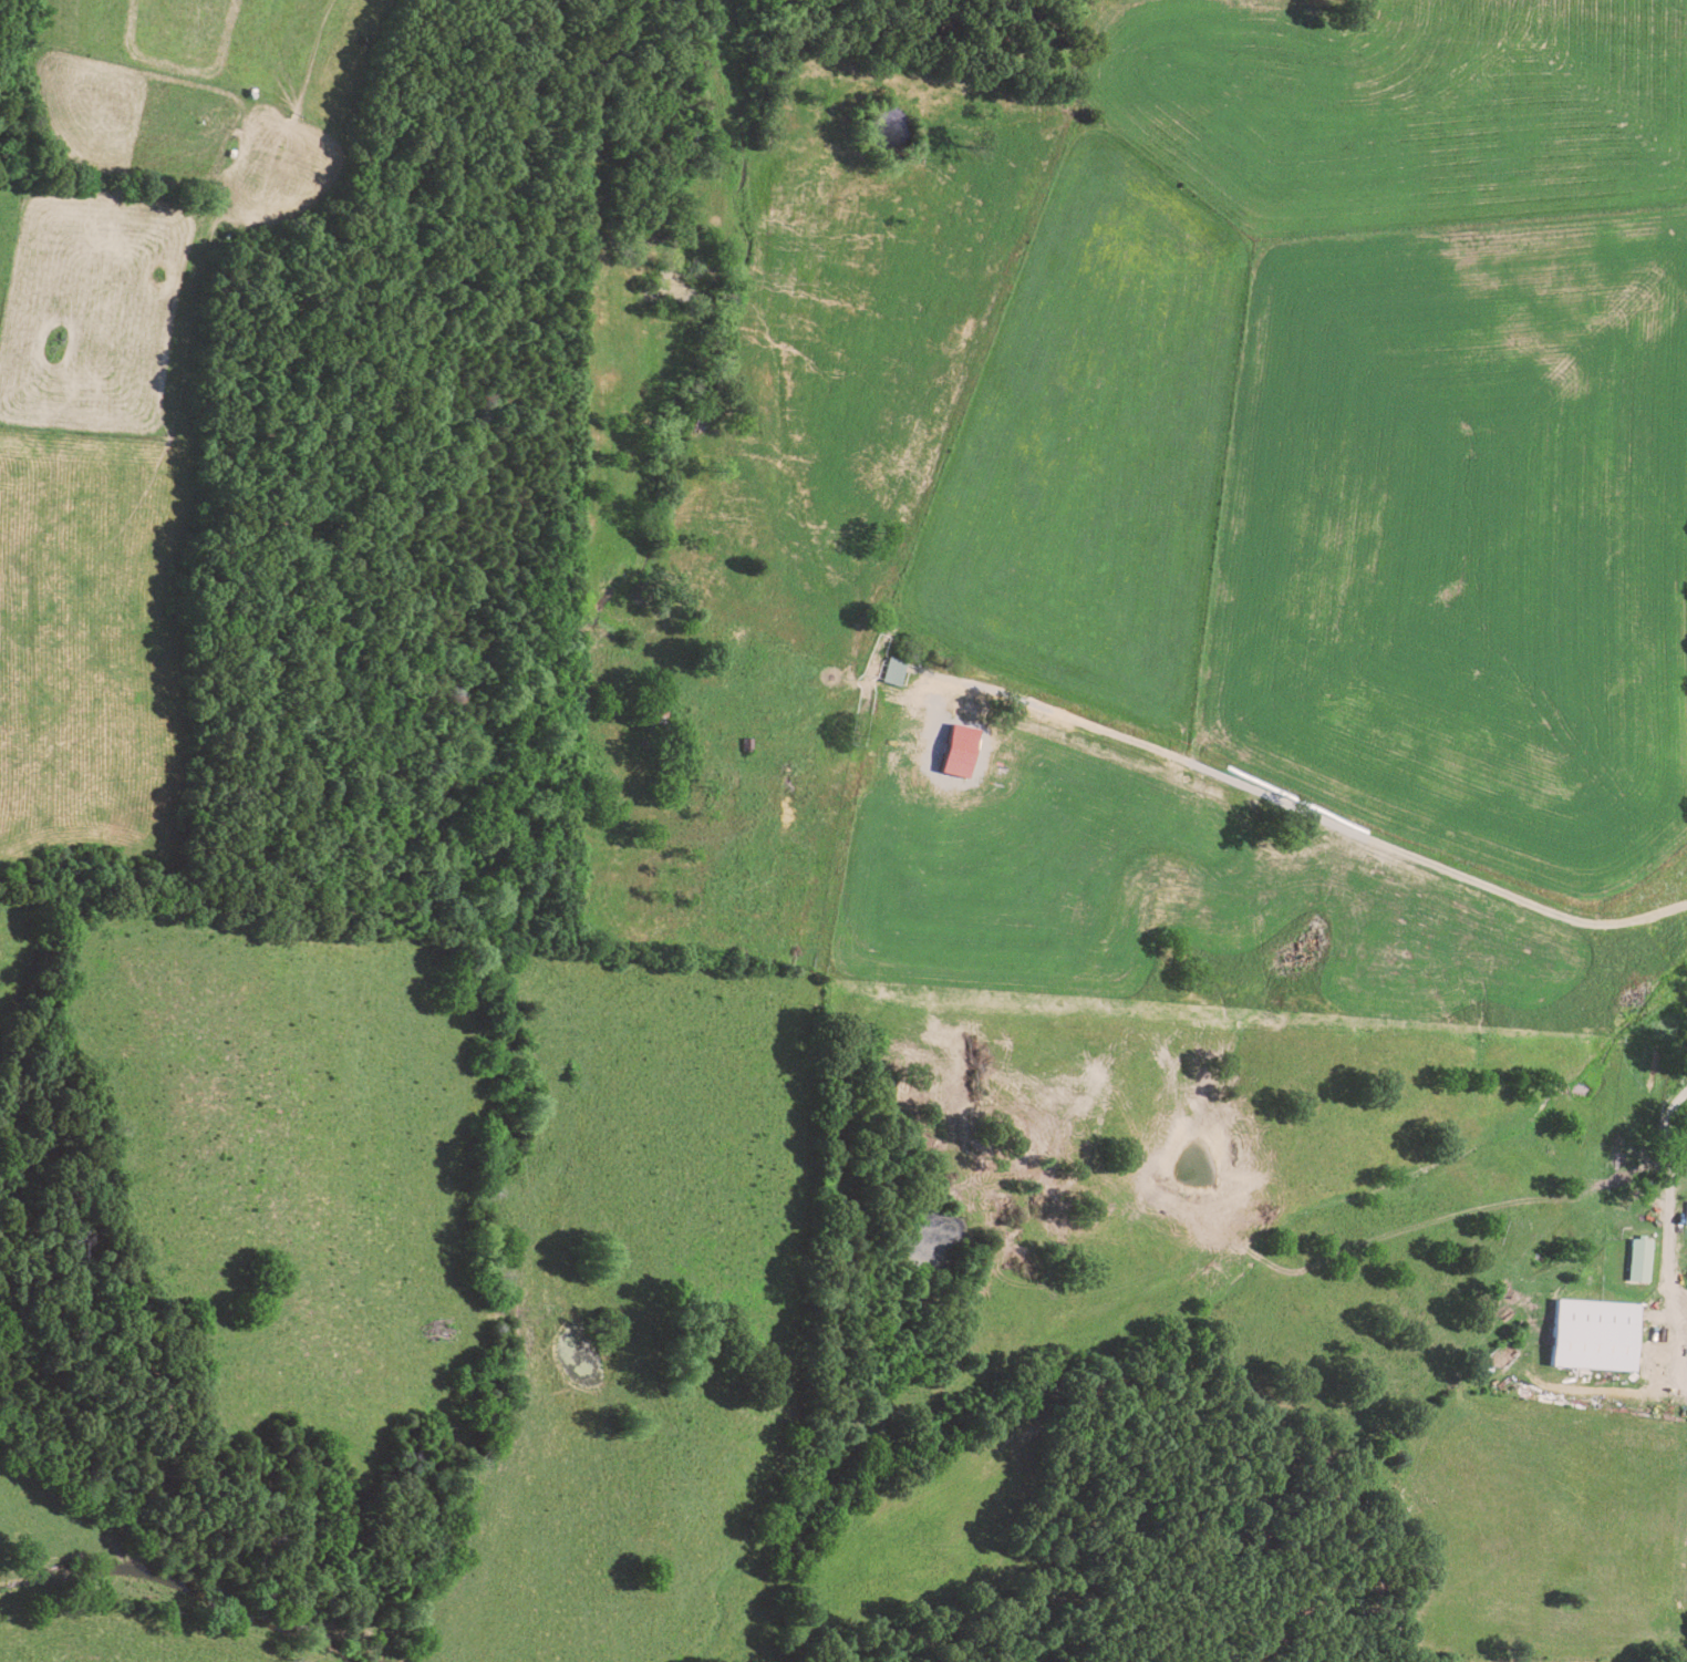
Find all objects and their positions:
building: (1686, 1215)
building: (1638, 1260)
building: (1595, 1335)

